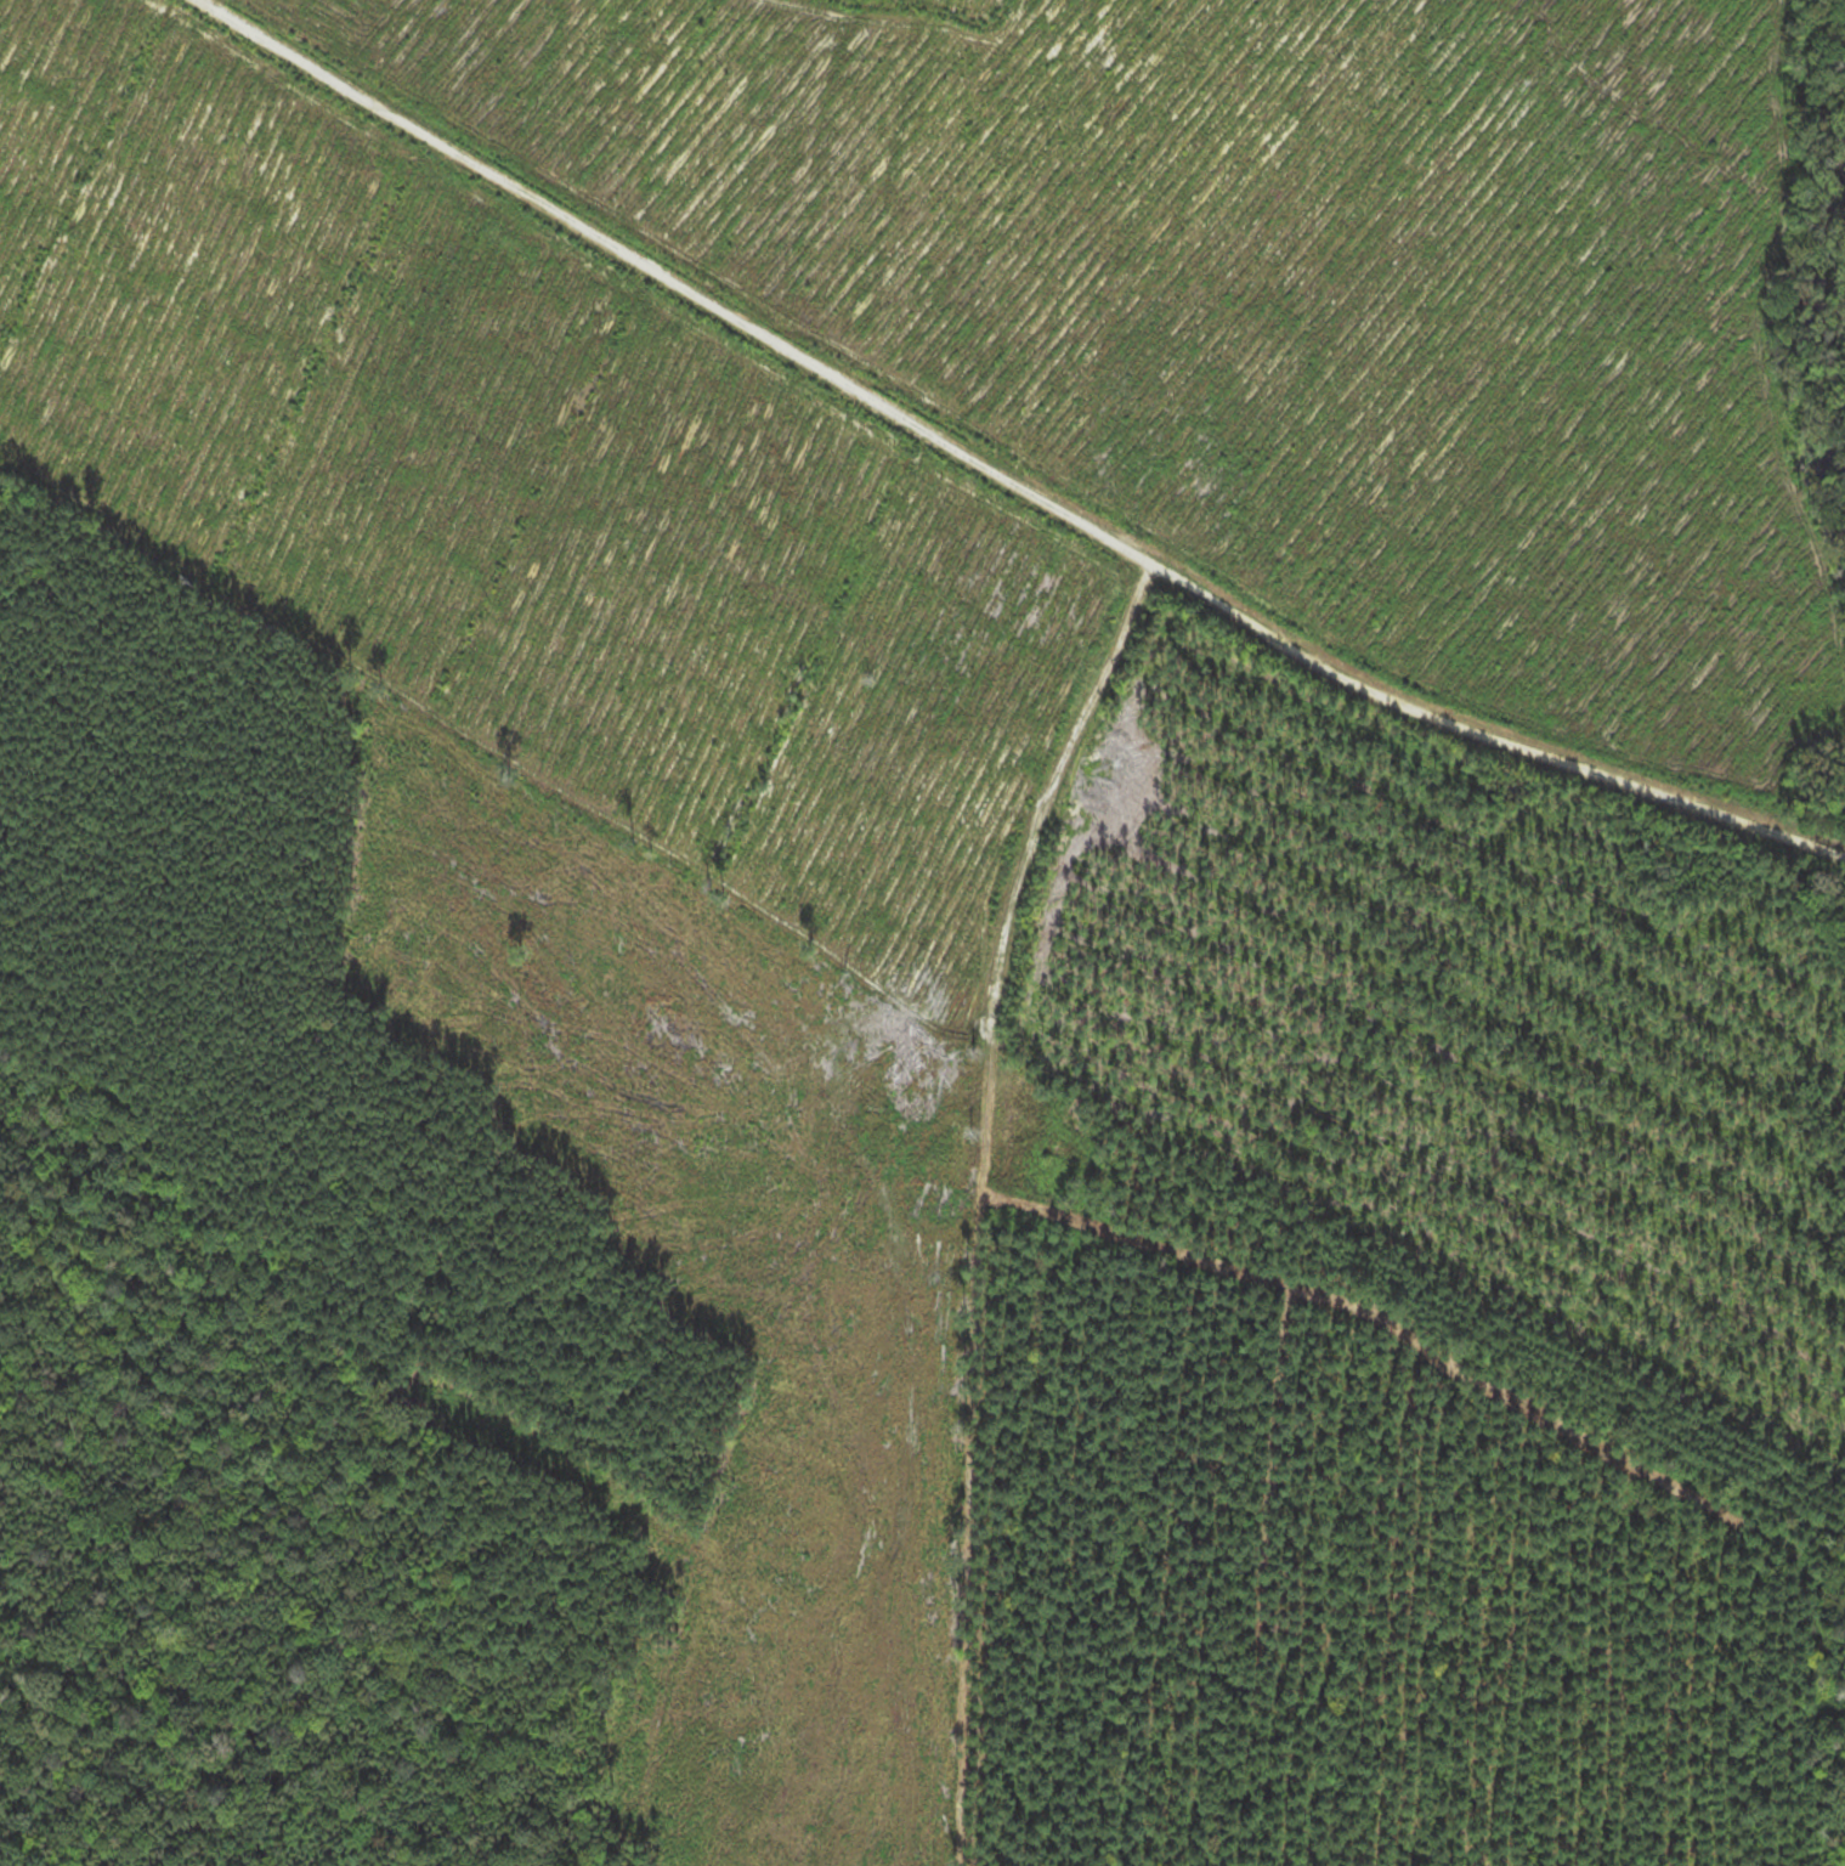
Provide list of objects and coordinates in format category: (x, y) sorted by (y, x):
road: (985, 485)

